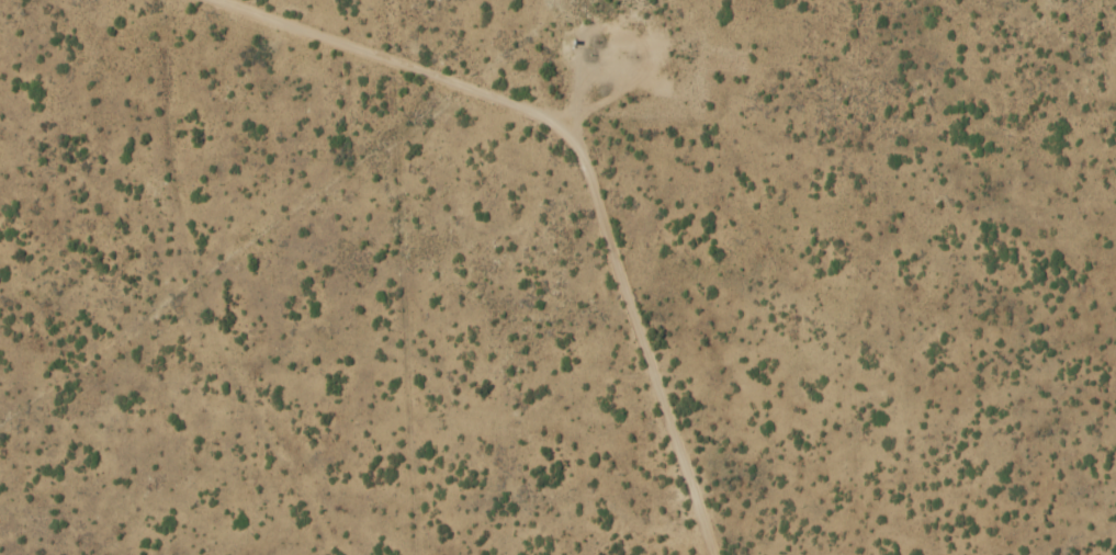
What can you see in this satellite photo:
road: (579, 173)

